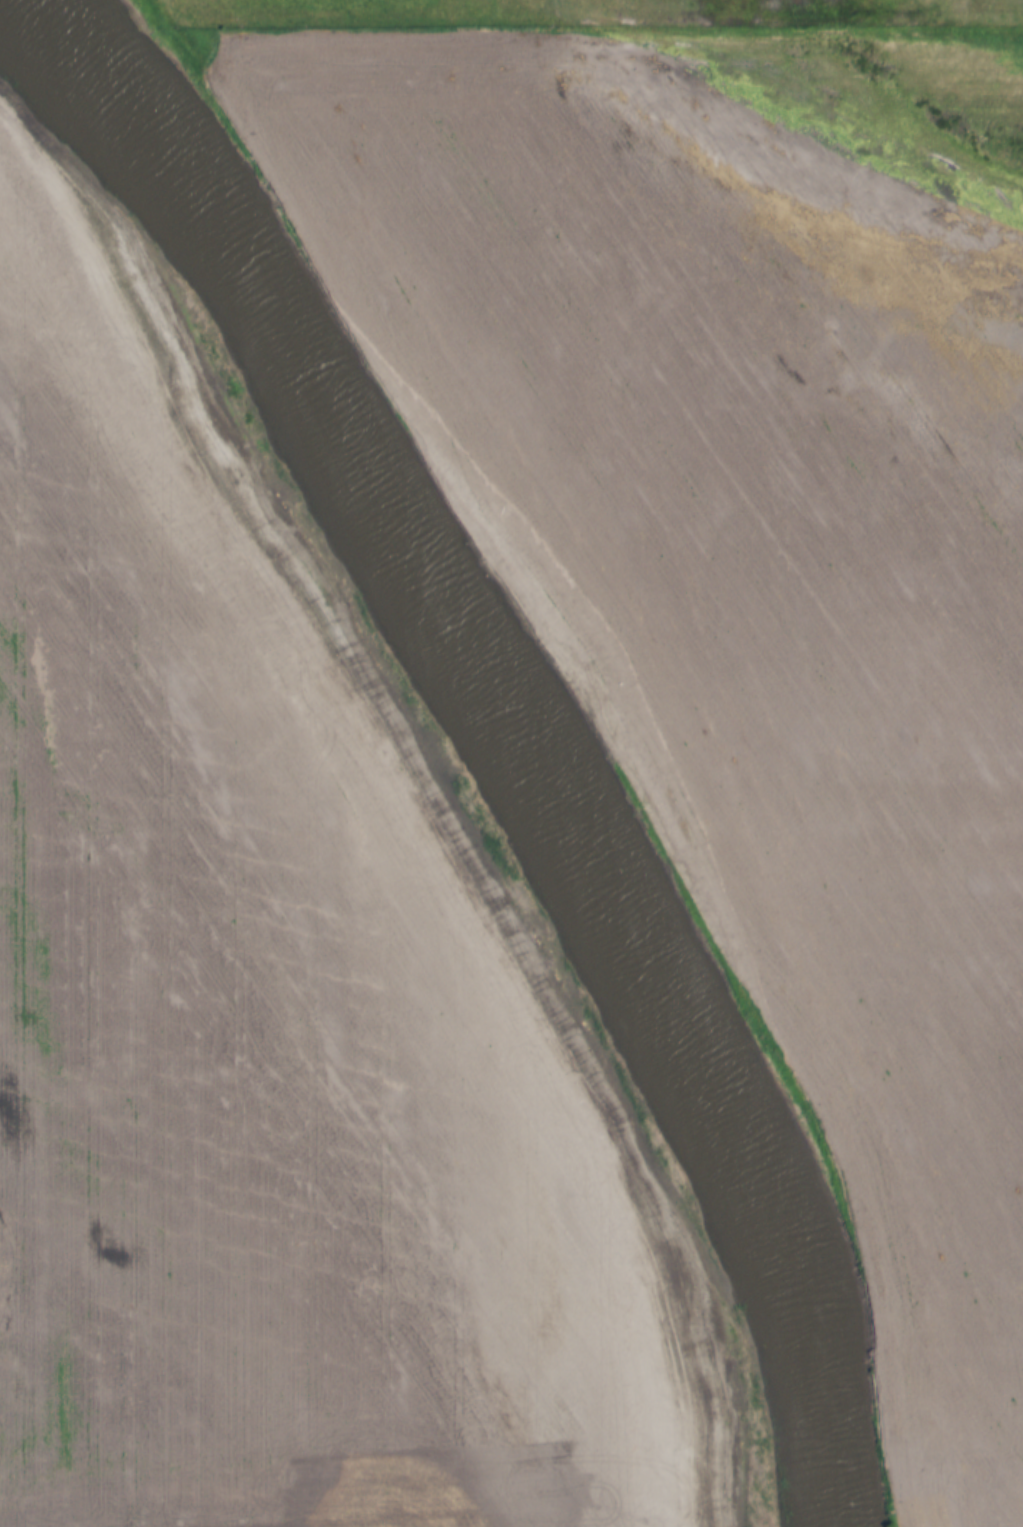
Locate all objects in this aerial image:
river: (511, 721)

